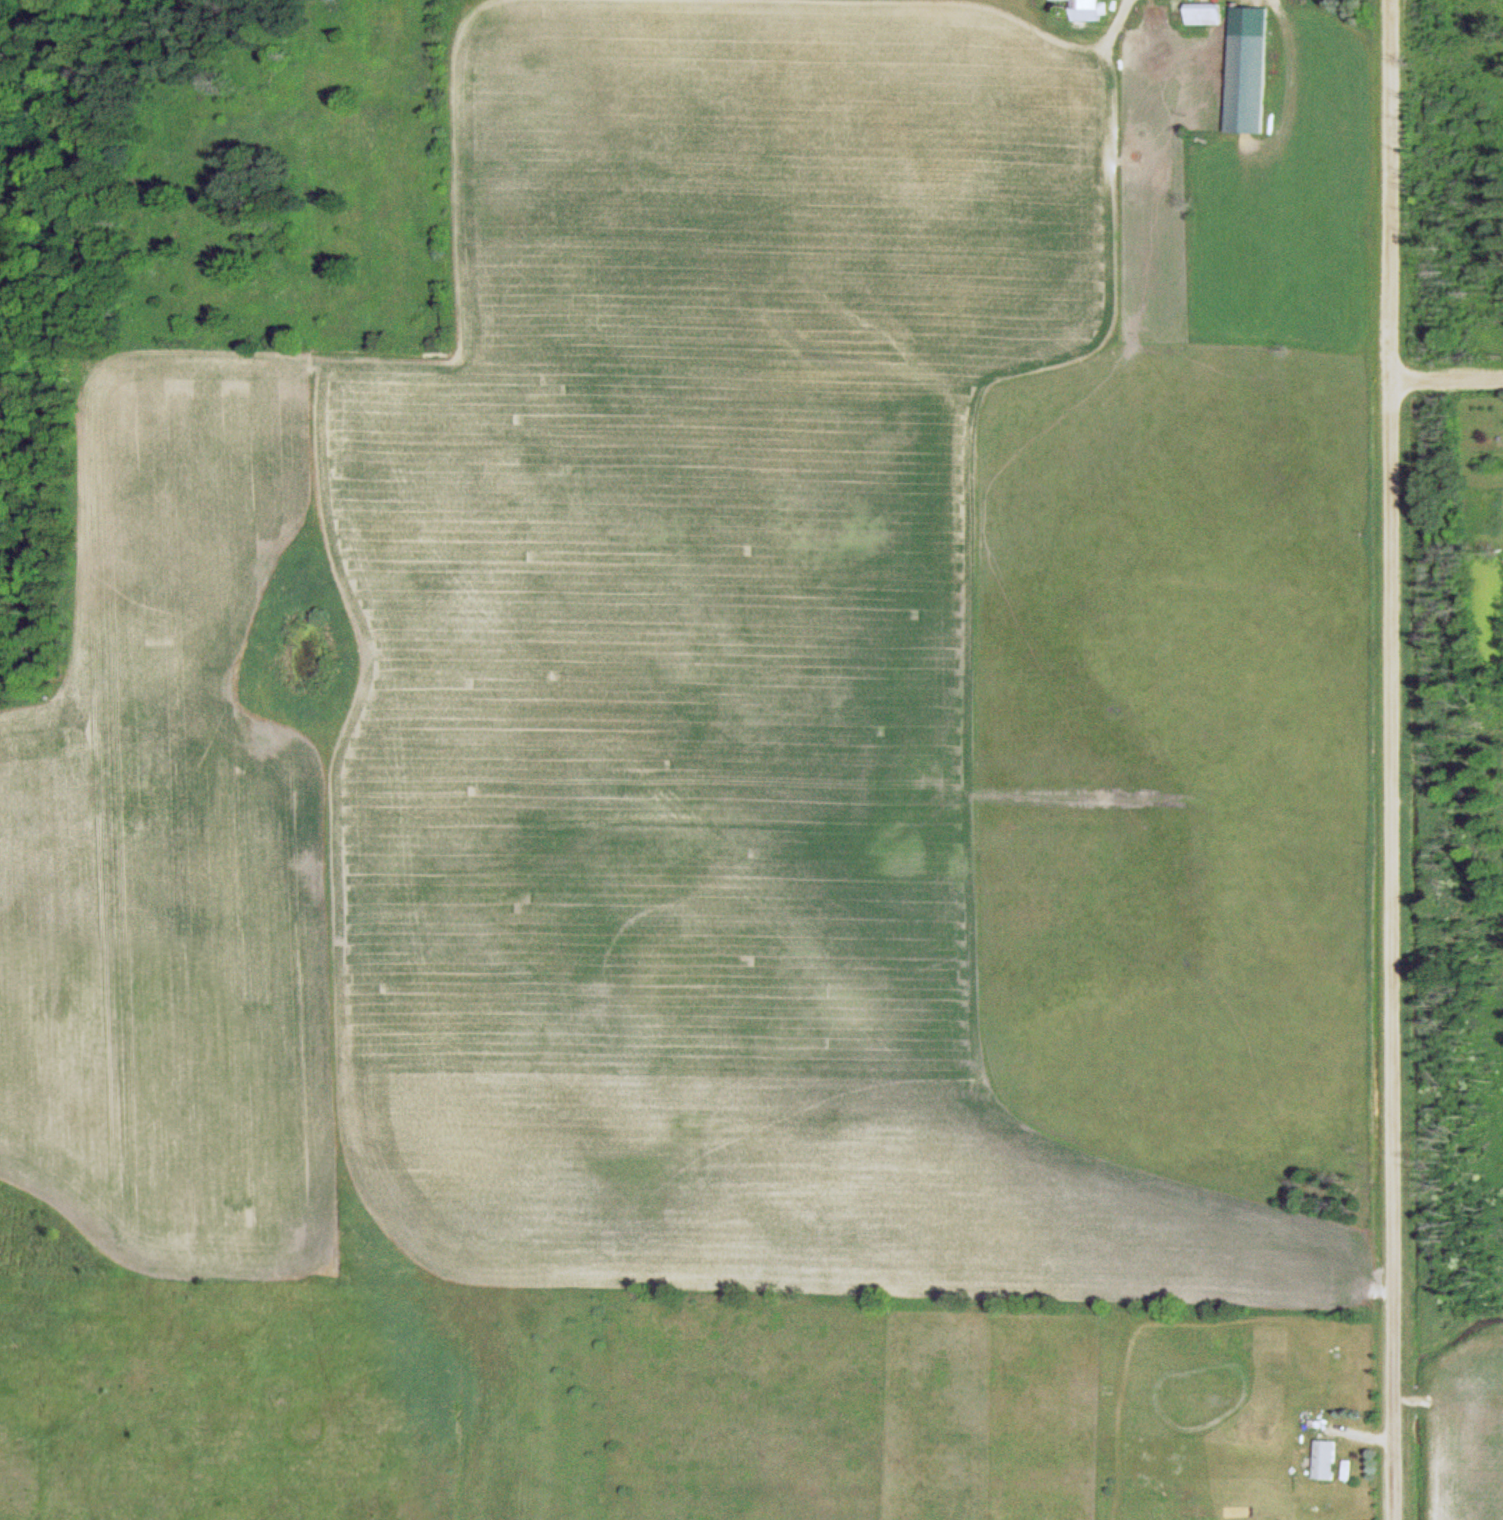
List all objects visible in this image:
building: (1088, 10)
building: (1202, 13)
building: (1245, 69)
road: (1449, 378)
road: (1395, 759)
building: (1323, 1460)

